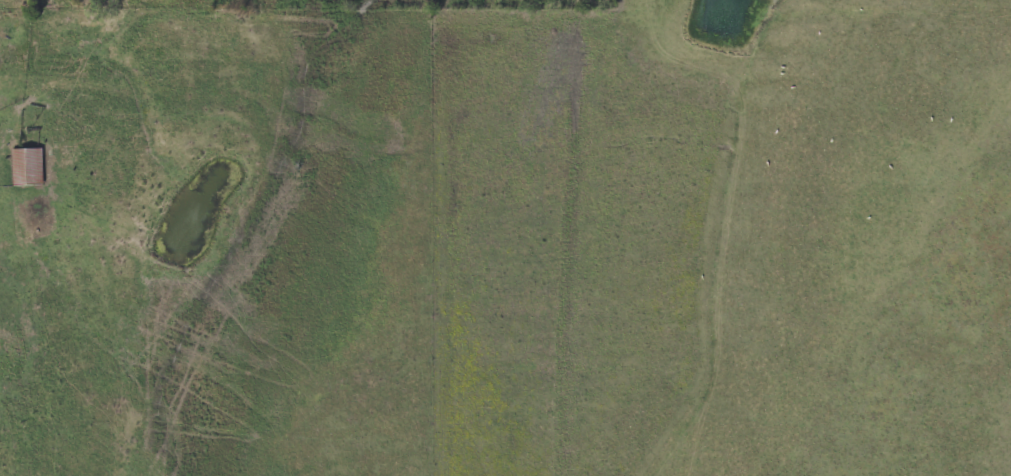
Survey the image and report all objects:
building: (917, 160)
building: (28, 166)

